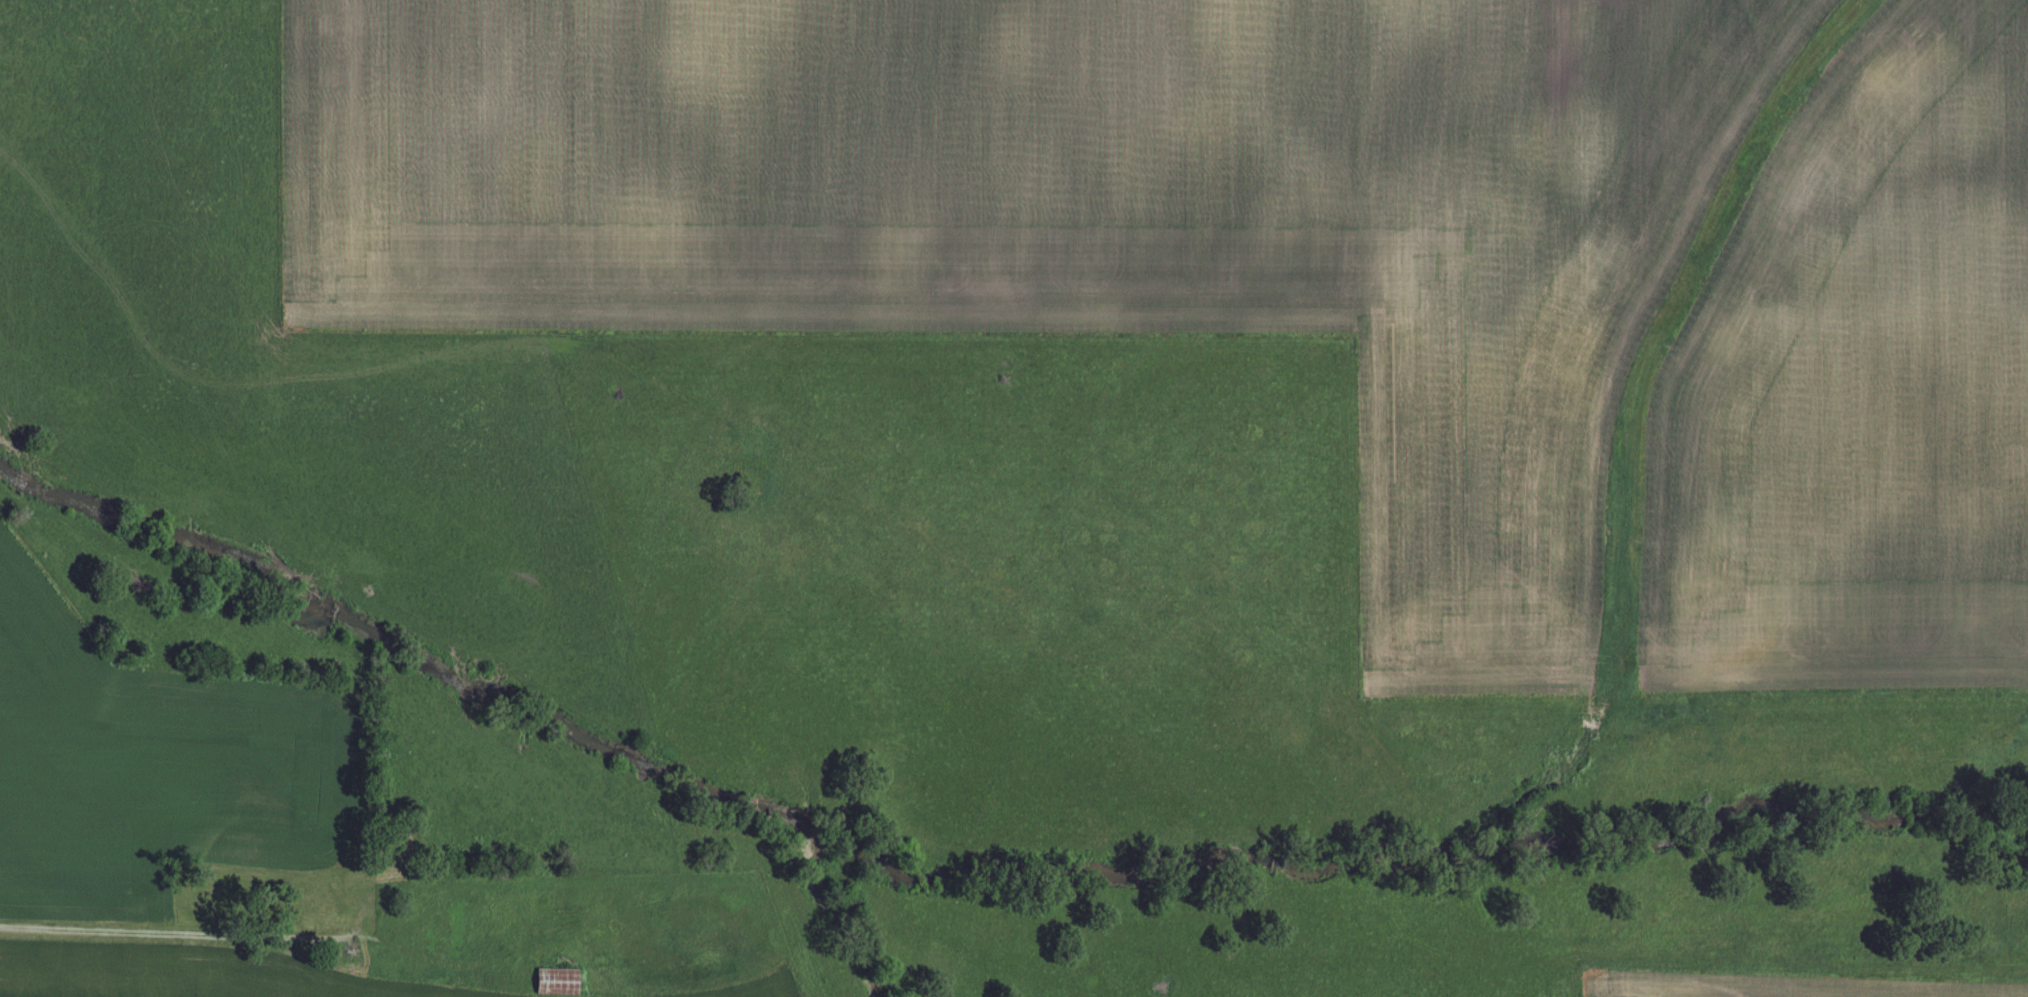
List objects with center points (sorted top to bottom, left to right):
road: (174, 929)
building: (576, 975)

